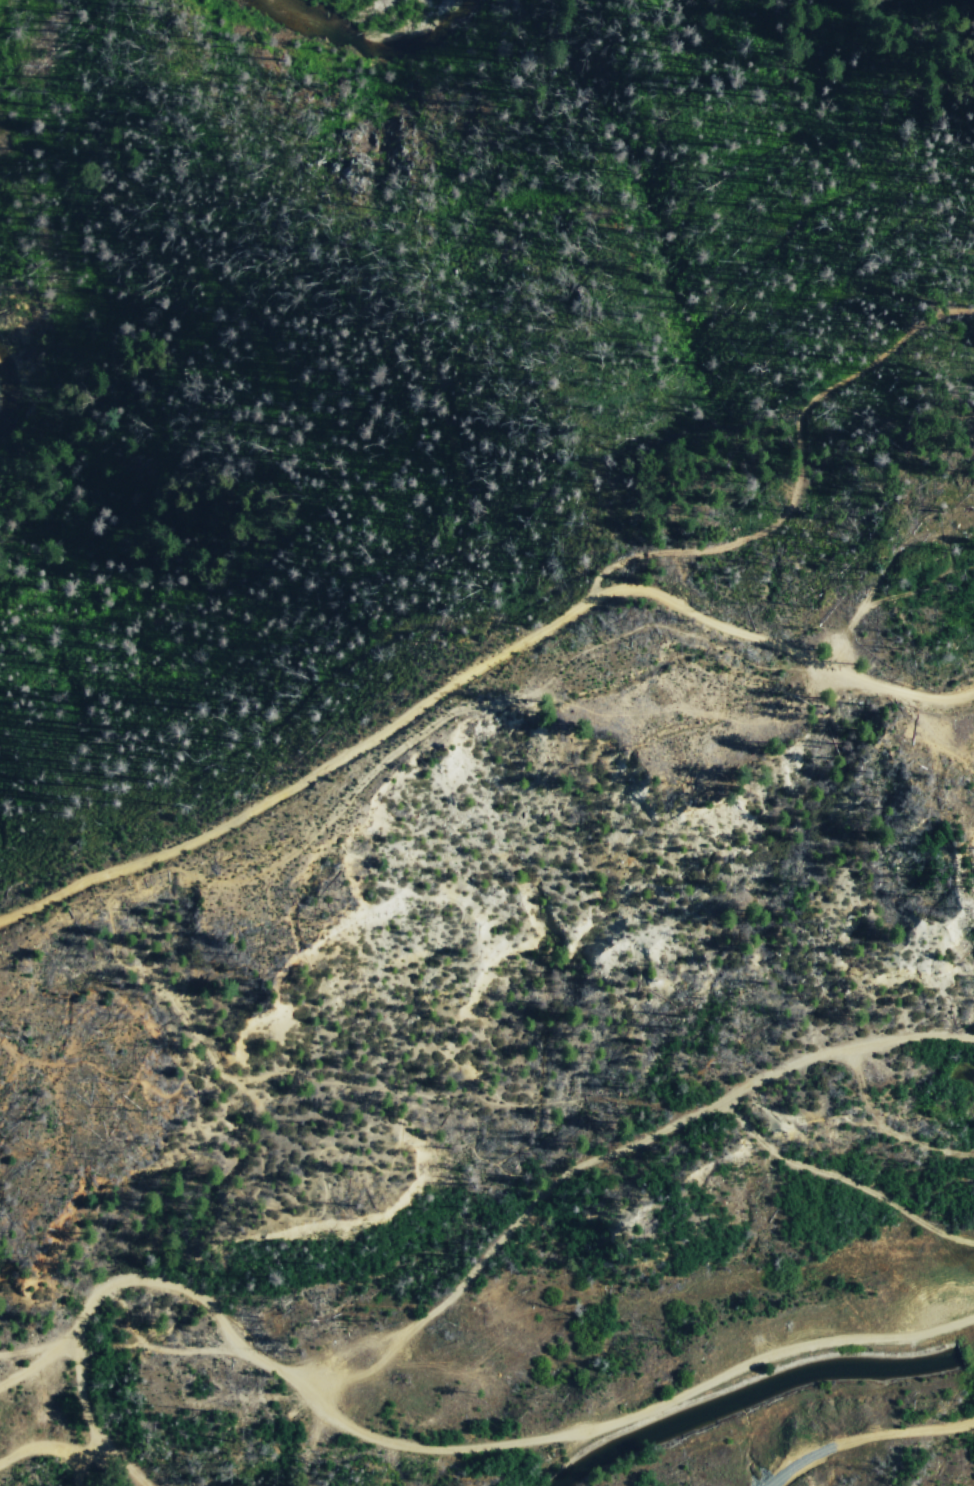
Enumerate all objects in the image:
road: (476, 667)
road: (867, 1435)
road: (37, 1447)
road: (433, 1447)
road: (114, 1454)
road: (78, 1471)

